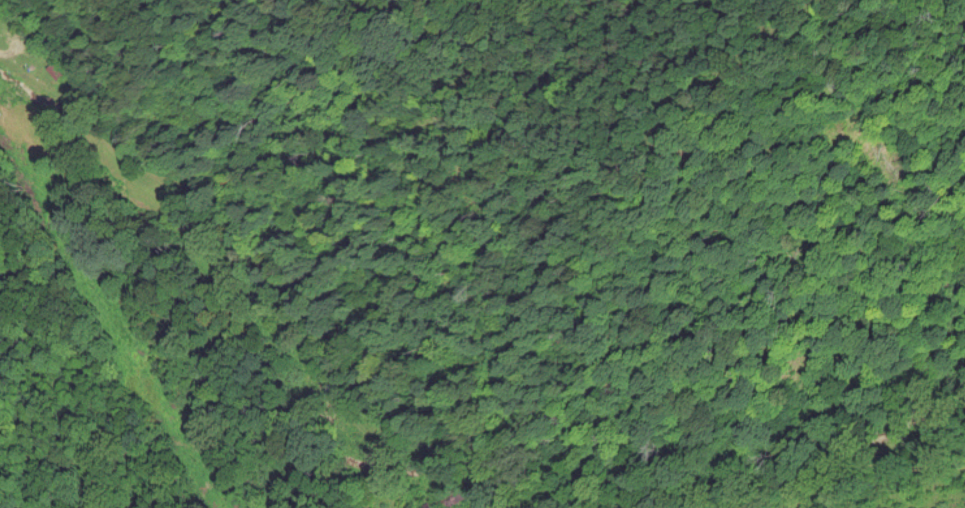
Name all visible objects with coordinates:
building: (0, 13)
building: (444, 504)

